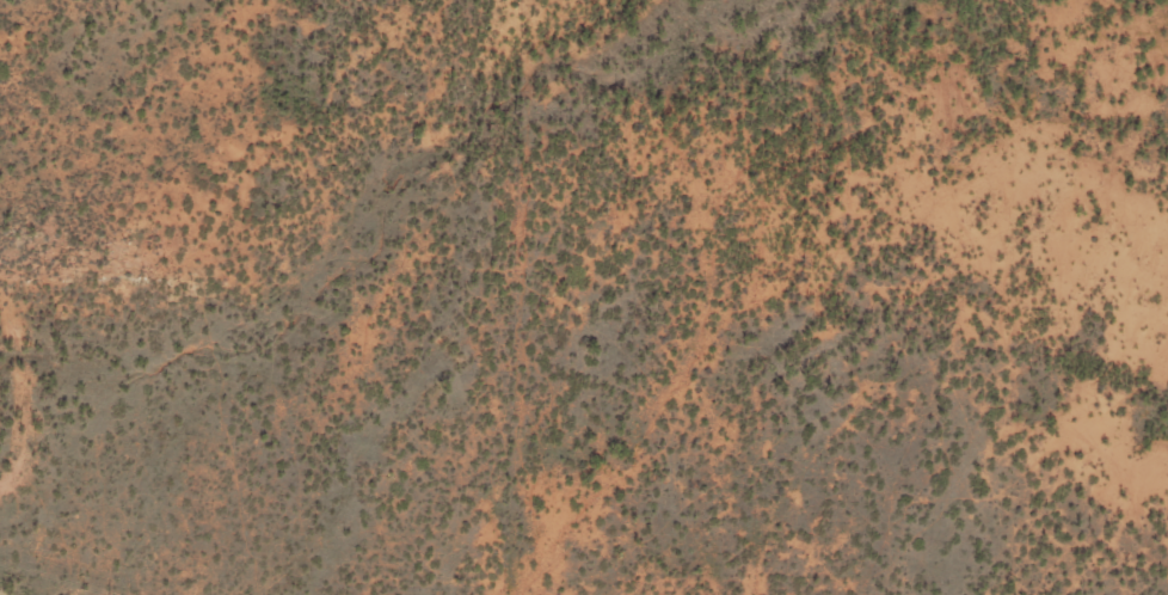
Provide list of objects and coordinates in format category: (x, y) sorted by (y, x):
road: (492, 297)

